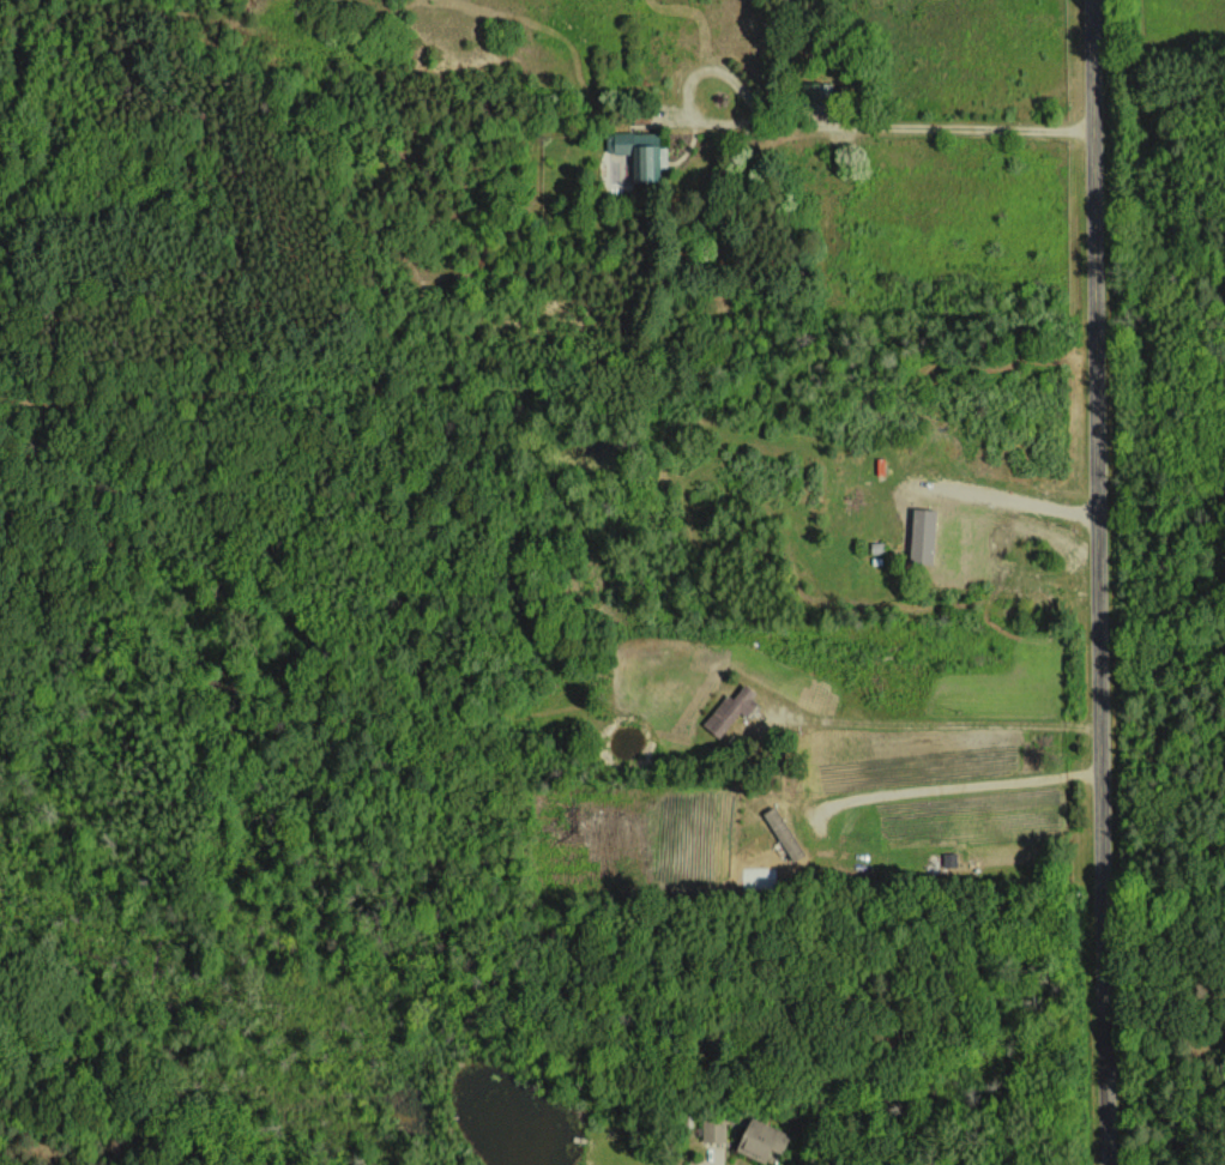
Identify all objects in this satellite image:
road: (881, 127)
building: (641, 153)
road: (1003, 500)
building: (921, 535)
road: (1098, 582)
building: (729, 711)
road: (936, 723)
road: (957, 785)
building: (714, 1129)
building: (762, 1139)
road: (712, 1163)

